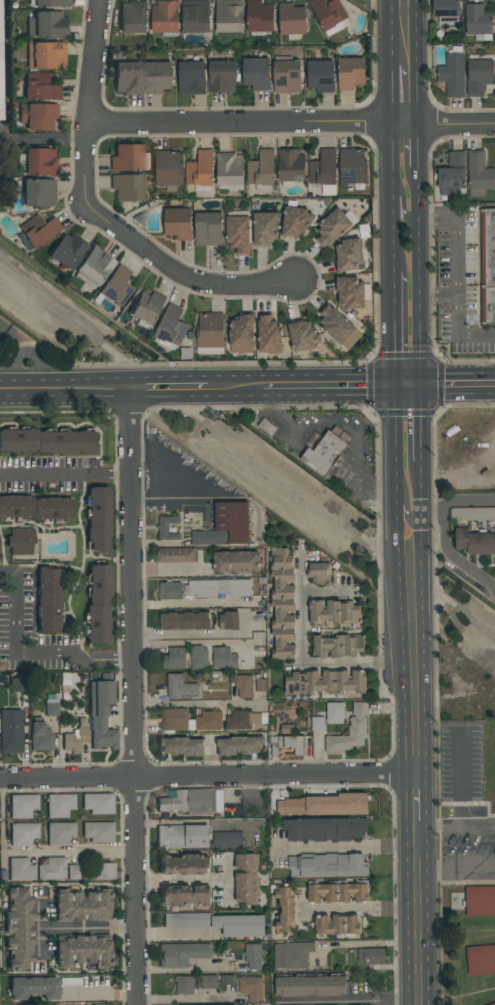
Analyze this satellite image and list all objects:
building: (52, 3)
building: (446, 11)
building: (330, 15)
building: (196, 16)
building: (229, 16)
building: (133, 17)
building: (259, 17)
building: (166, 18)
building: (291, 20)
building: (477, 21)
building: (46, 25)
building: (45, 55)
road: (389, 62)
road: (416, 62)
building: (0, 68)
building: (256, 73)
building: (350, 73)
building: (453, 73)
building: (479, 73)
building: (157, 75)
building: (287, 75)
building: (320, 75)
building: (222, 76)
building: (192, 77)
building: (127, 78)
building: (39, 87)
road: (90, 94)
building: (37, 116)
road: (291, 123)
road: (390, 154)
building: (129, 158)
building: (40, 161)
building: (290, 166)
building: (352, 166)
building: (168, 169)
building: (200, 170)
building: (262, 170)
building: (230, 171)
building: (324, 172)
building: (452, 174)
building: (479, 174)
building: (127, 187)
building: (38, 193)
road: (402, 207)
building: (295, 220)
building: (178, 223)
road: (391, 227)
building: (265, 228)
building: (332, 228)
building: (208, 229)
building: (37, 231)
building: (238, 232)
building: (67, 250)
road: (420, 252)
building: (349, 255)
building: (93, 267)
road: (174, 269)
building: (488, 271)
road: (456, 273)
building: (114, 287)
building: (352, 292)
road: (438, 293)
building: (147, 309)
building: (171, 326)
road: (393, 326)
building: (338, 327)
building: (209, 333)
building: (242, 333)
building: (268, 334)
building: (303, 336)
road: (16, 337)
road: (27, 353)
road: (407, 381)
road: (457, 382)
road: (327, 384)
road: (234, 387)
road: (166, 389)
road: (61, 390)
building: (266, 427)
road: (336, 429)
road: (394, 433)
building: (46, 440)
building: (324, 453)
road: (63, 475)
road: (394, 500)
road: (470, 501)
road: (167, 506)
road: (407, 507)
building: (35, 508)
road: (433, 514)
building: (472, 514)
building: (97, 519)
building: (226, 526)
building: (167, 527)
building: (20, 541)
building: (475, 541)
building: (175, 555)
road: (449, 557)
building: (236, 562)
road: (169, 571)
building: (319, 573)
road: (422, 577)
building: (218, 588)
building: (170, 590)
building: (48, 599)
building: (282, 603)
building: (97, 604)
building: (334, 612)
building: (185, 620)
building: (229, 620)
road: (189, 634)
building: (338, 646)
road: (25, 656)
building: (198, 656)
building: (174, 658)
building: (223, 658)
road: (311, 664)
building: (325, 682)
building: (17, 685)
building: (244, 685)
building: (261, 685)
building: (180, 687)
road: (133, 697)
road: (194, 705)
building: (334, 713)
building: (101, 714)
building: (244, 719)
building: (190, 720)
building: (317, 723)
building: (11, 731)
building: (350, 731)
building: (40, 737)
building: (74, 740)
building: (285, 744)
building: (239, 745)
building: (180, 746)
road: (402, 760)
road: (213, 778)
building: (192, 801)
building: (98, 802)
building: (22, 805)
building: (59, 805)
building: (325, 805)
road: (192, 822)
road: (461, 827)
building: (324, 829)
building: (97, 832)
building: (22, 833)
building: (59, 833)
building: (182, 836)
building: (228, 840)
road: (345, 847)
road: (36, 850)
building: (184, 864)
building: (327, 865)
building: (21, 869)
building: (52, 869)
building: (101, 871)
road: (461, 871)
building: (73, 872)
road: (226, 878)
building: (247, 879)
road: (182, 881)
road: (428, 889)
building: (337, 892)
building: (185, 896)
building: (480, 900)
building: (82, 905)
road: (357, 911)
road: (417, 911)
building: (285, 912)
building: (217, 923)
building: (337, 926)
building: (18, 928)
road: (89, 929)
road: (172, 933)
road: (363, 944)
building: (82, 950)
building: (181, 954)
building: (292, 954)
building: (253, 956)
building: (371, 956)
building: (480, 959)
building: (208, 982)
building: (184, 984)
building: (310, 985)
building: (33, 987)
building: (252, 987)
road: (99, 994)
road: (182, 999)
road: (345, 1002)
building: (492, 1004)

